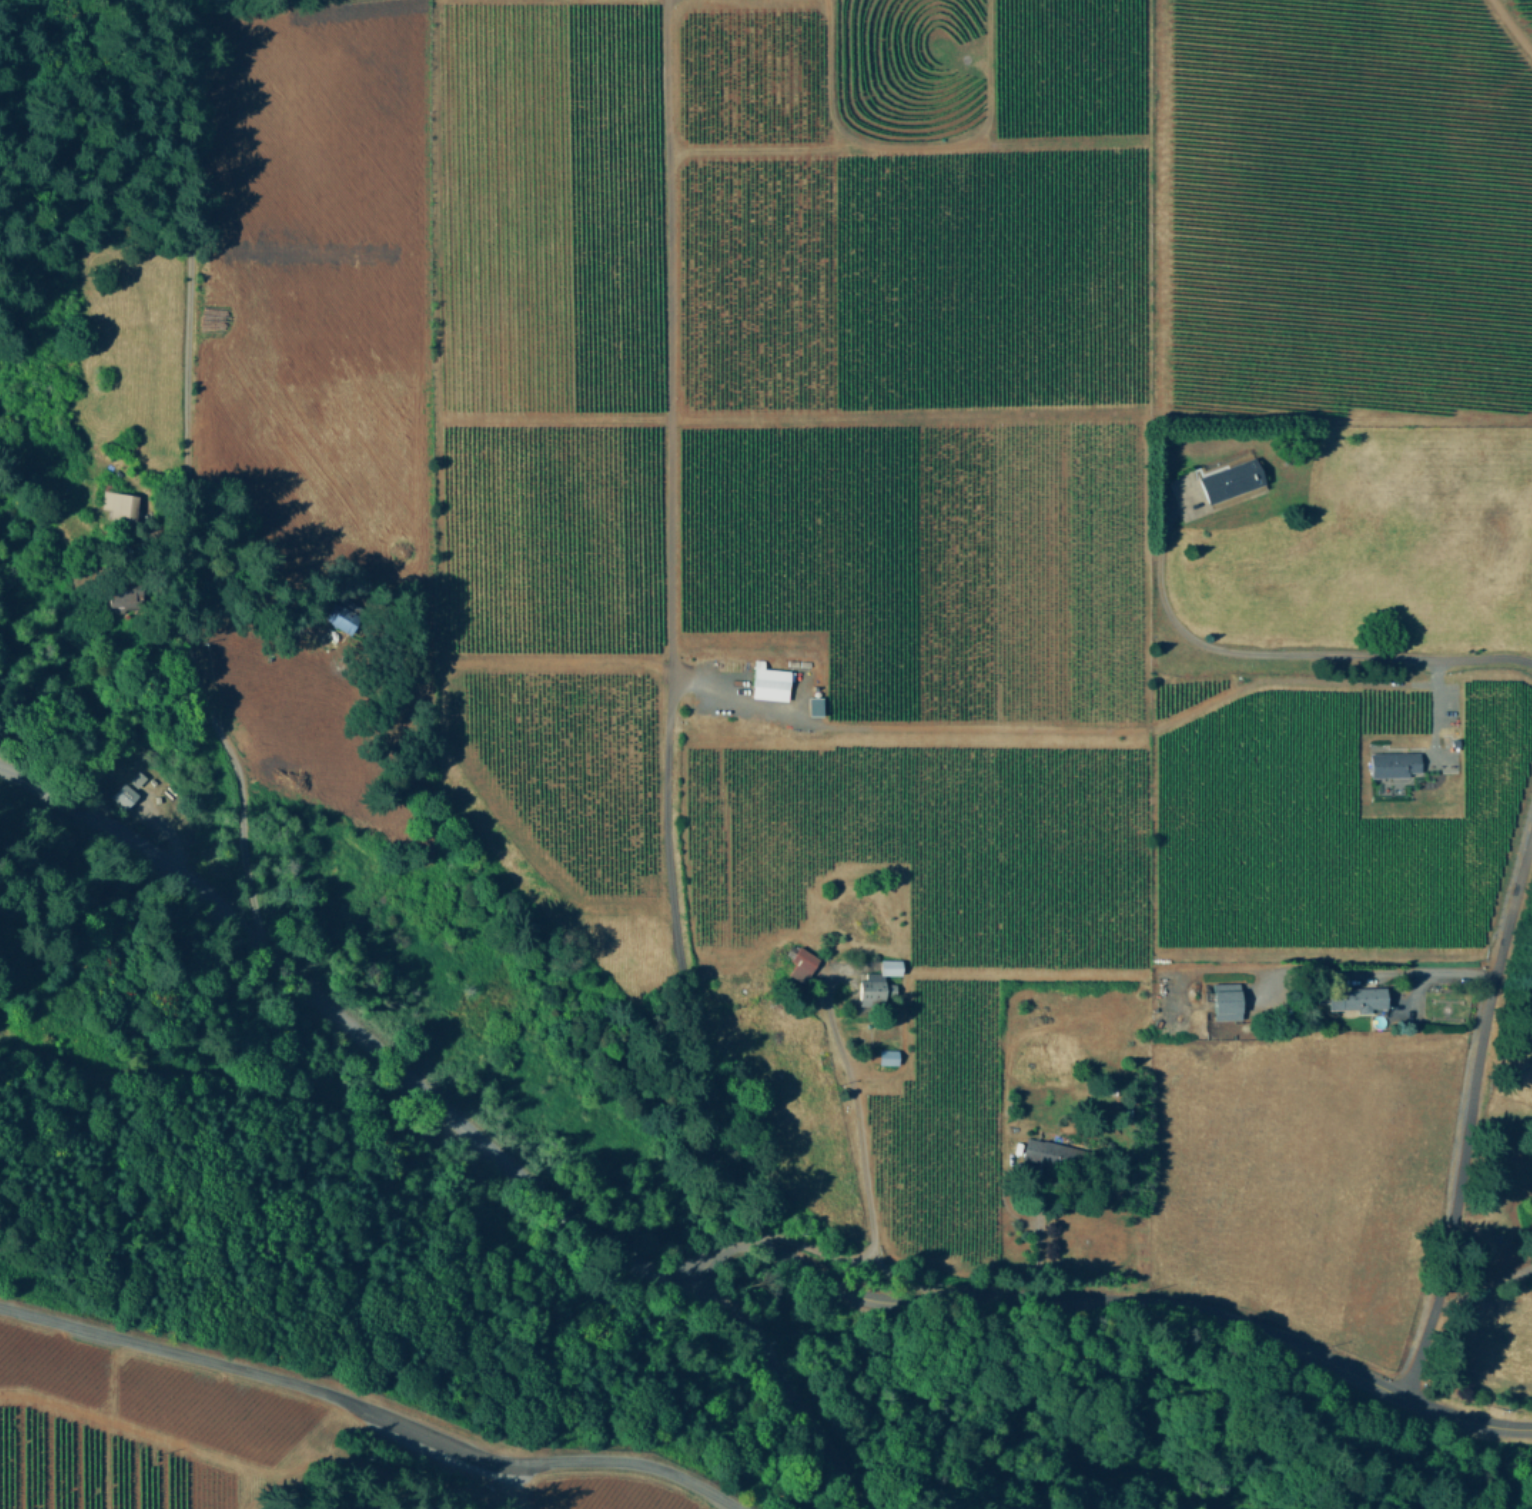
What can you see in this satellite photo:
crop: (1514, 15)
road: (186, 461)
building: (1231, 479)
building: (121, 505)
crop: (1340, 547)
building: (120, 596)
building: (341, 619)
road: (669, 628)
road: (1286, 655)
building: (769, 681)
road: (1431, 714)
building: (1394, 763)
building: (139, 777)
building: (126, 794)
building: (801, 962)
road: (1416, 971)
building: (879, 983)
building: (1356, 998)
building: (1227, 1000)
building: (888, 1055)
road: (1466, 1107)
road: (454, 1121)
crop: (1157, 1143)
building: (1055, 1152)
road: (859, 1162)
road: (1034, 1241)
road: (822, 1255)
road: (1103, 1300)
road: (376, 1409)

